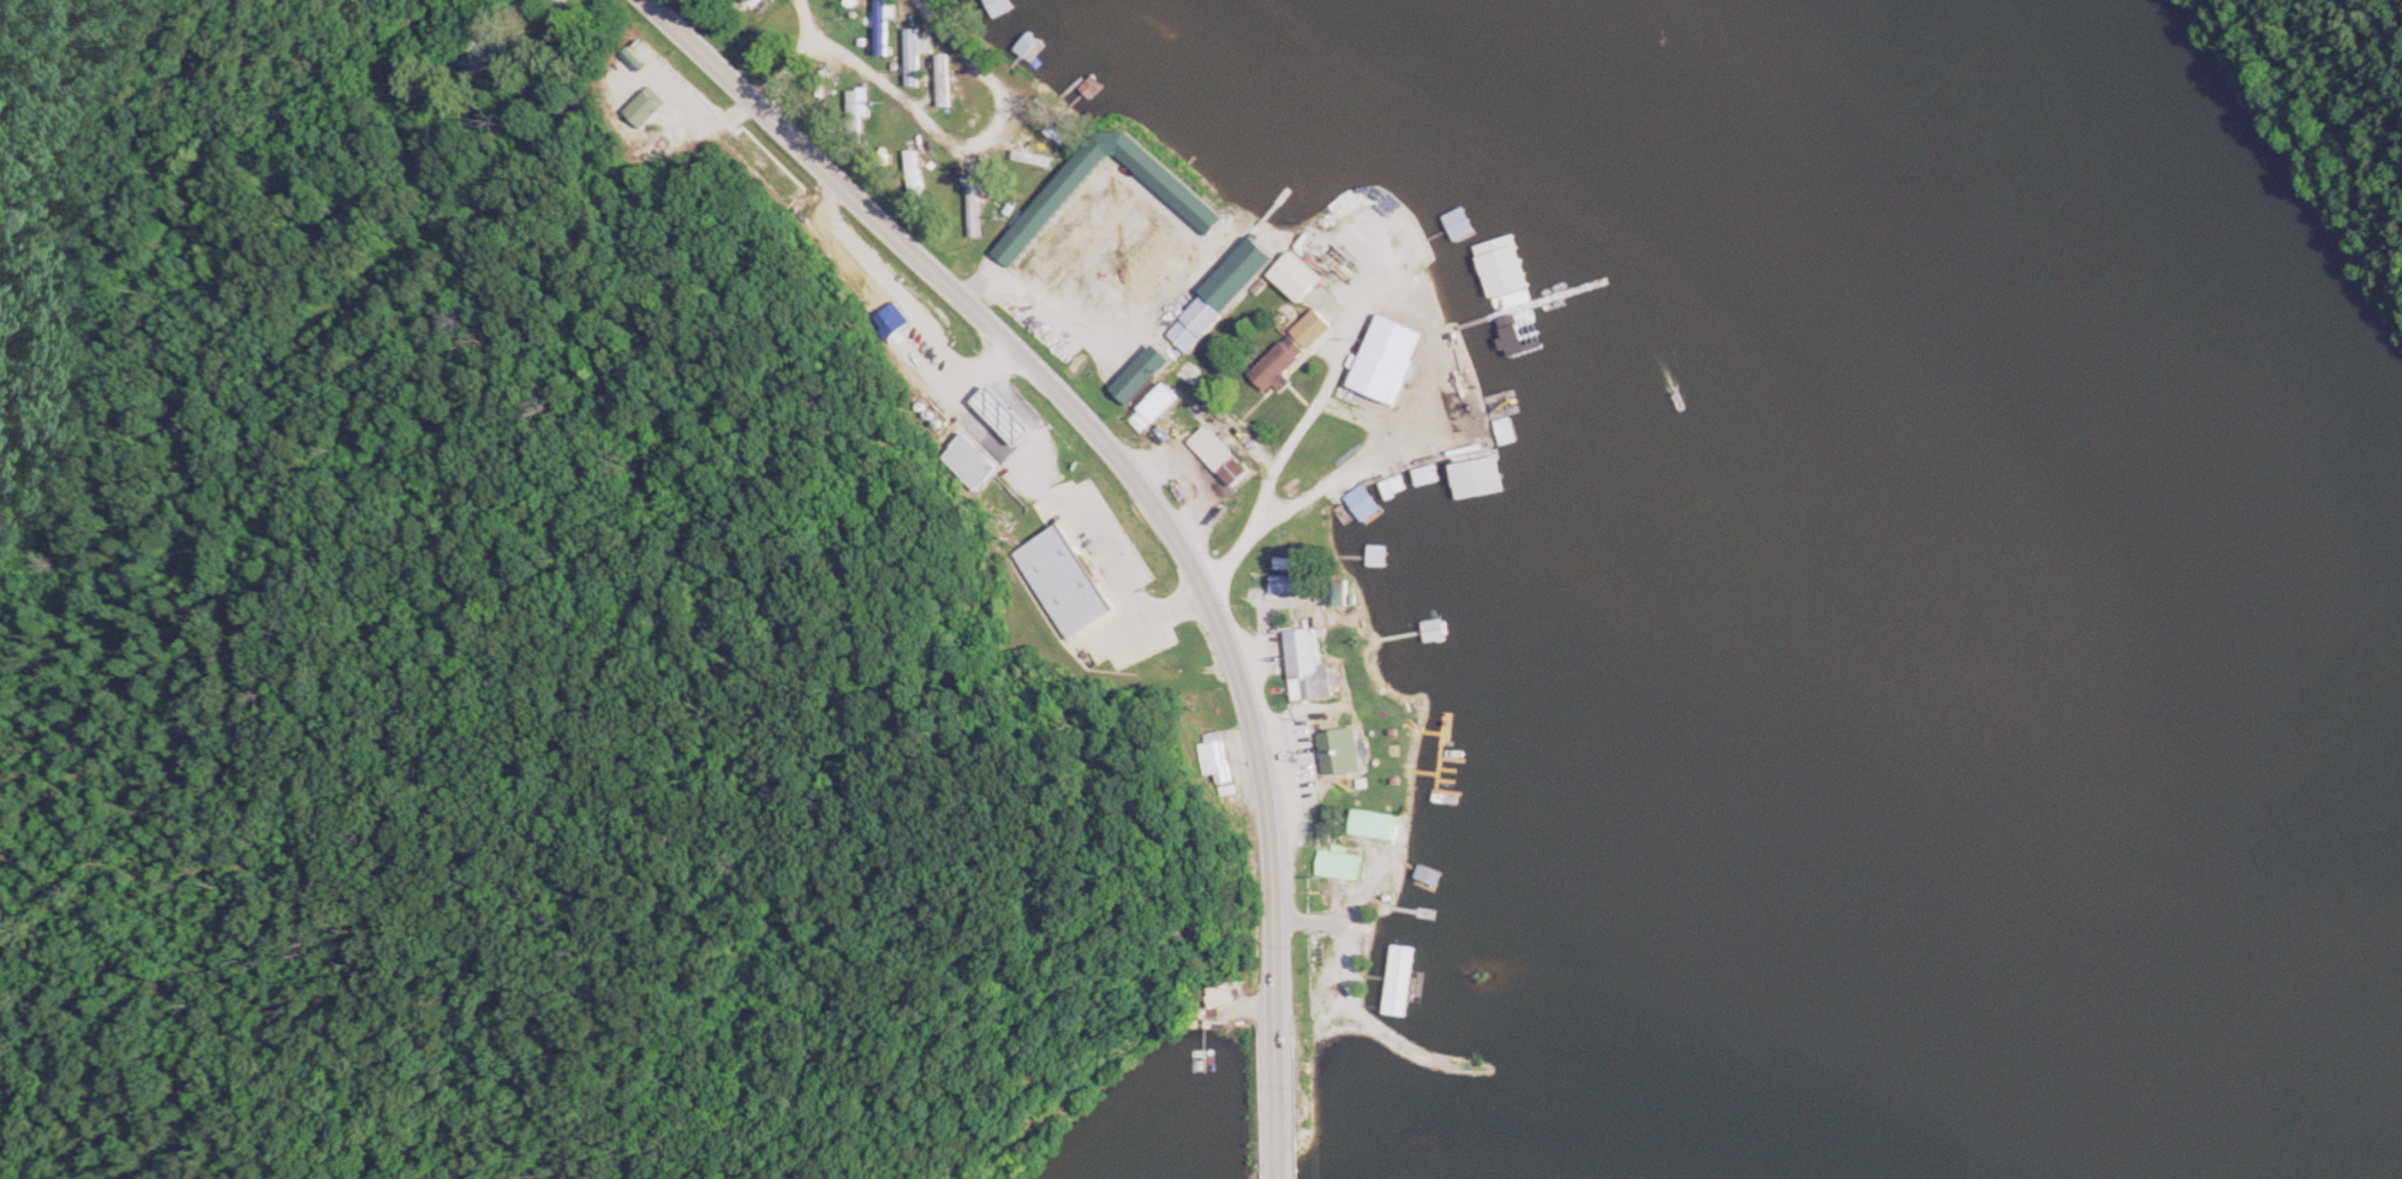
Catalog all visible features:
building: (854, 13)
building: (884, 28)
building: (1010, 42)
building: (477, 56)
building: (862, 102)
building: (646, 107)
building: (1042, 110)
building: (920, 167)
building: (976, 219)
building: (1086, 219)
building: (1164, 252)
building: (1249, 271)
building: (1297, 275)
building: (1200, 322)
building: (1315, 327)
building: (1486, 353)
building: (1391, 358)
building: (1141, 384)
building: (1164, 402)
river: (2096, 411)
building: (1008, 414)
building: (1225, 457)
building: (972, 461)
road: (1141, 490)
building: (1057, 577)
building: (1297, 585)
building: (1339, 593)
building: (1315, 666)
building: (1348, 752)
building: (1217, 756)
building: (1376, 824)
building: (1343, 864)
building: (1434, 869)
building: (1403, 971)
road: (1281, 1166)

